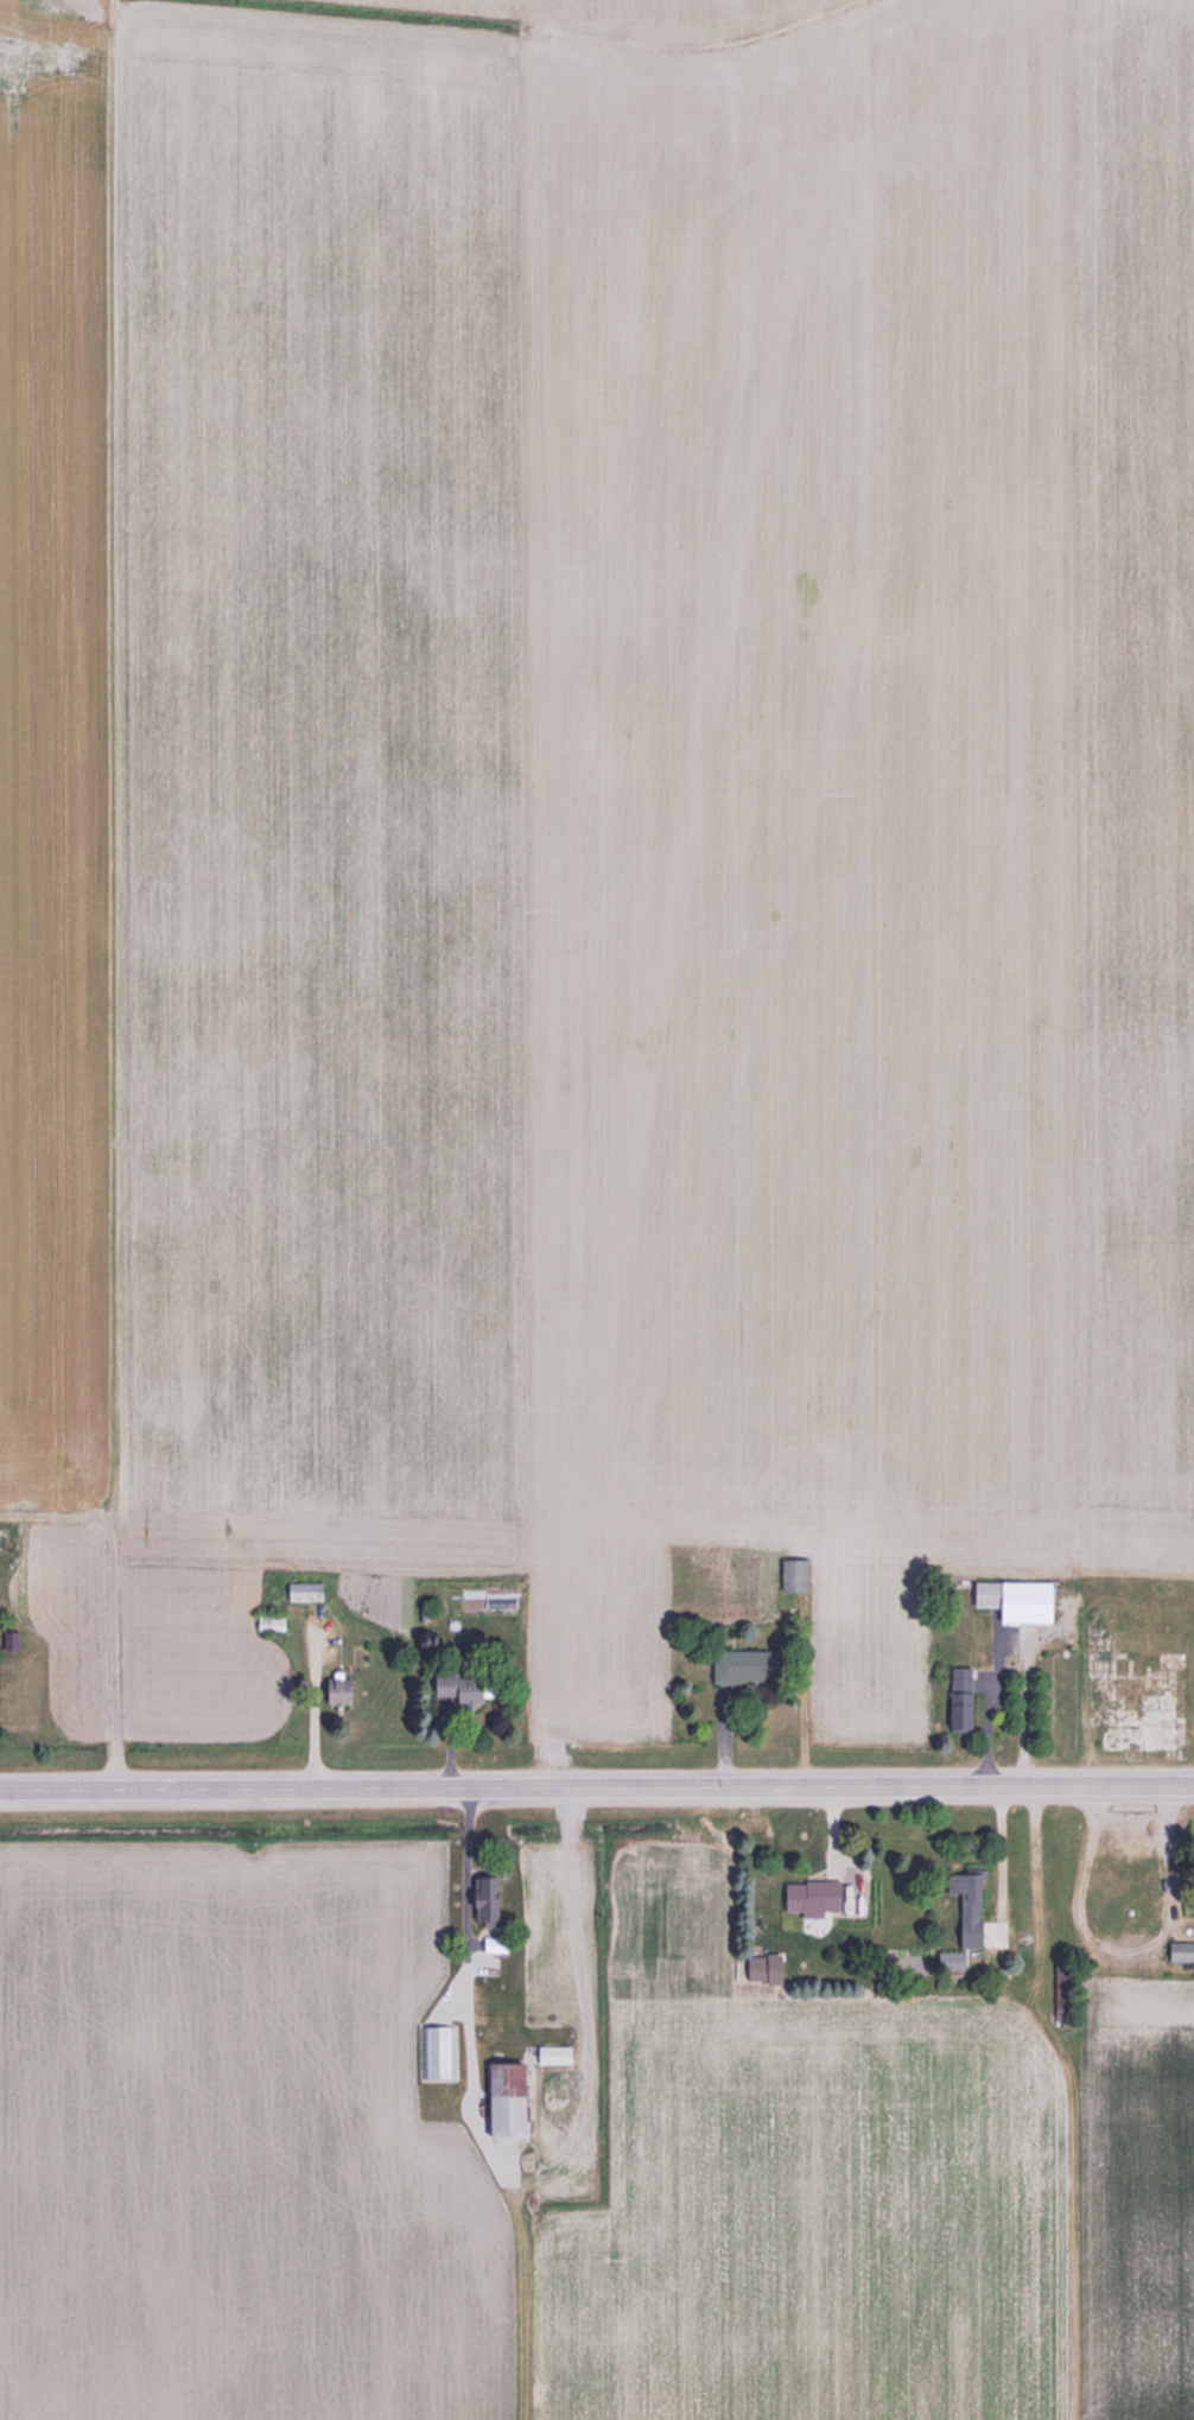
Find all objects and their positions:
building: (792, 1574)
building: (300, 1589)
building: (1014, 1600)
building: (267, 1622)
road: (1006, 1633)
building: (738, 1665)
building: (337, 1690)
building: (452, 1690)
building: (957, 1698)
building: (1136, 1727)
road: (597, 1789)
building: (484, 1898)
building: (809, 1898)
road: (458, 1899)
building: (966, 1907)
building: (493, 1944)
building: (1177, 1951)
building: (438, 2051)
building: (550, 2051)
building: (500, 2101)

